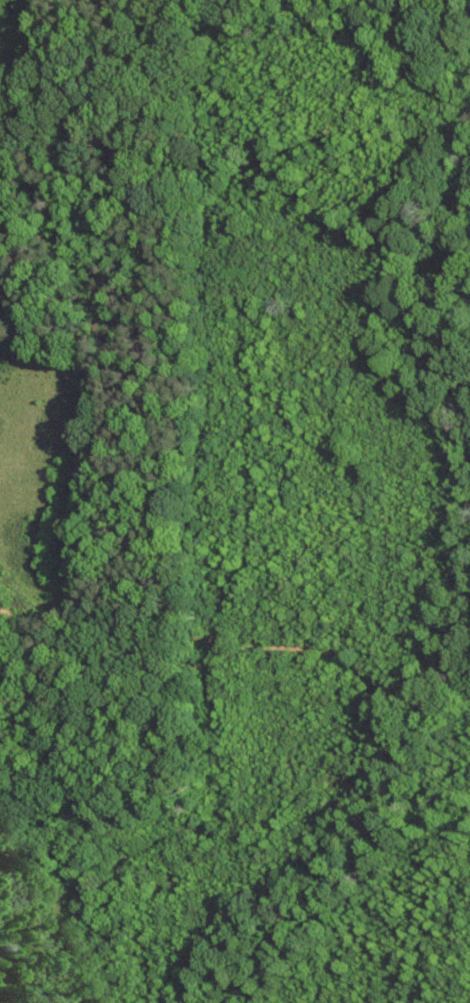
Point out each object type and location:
park: (235, 501)

